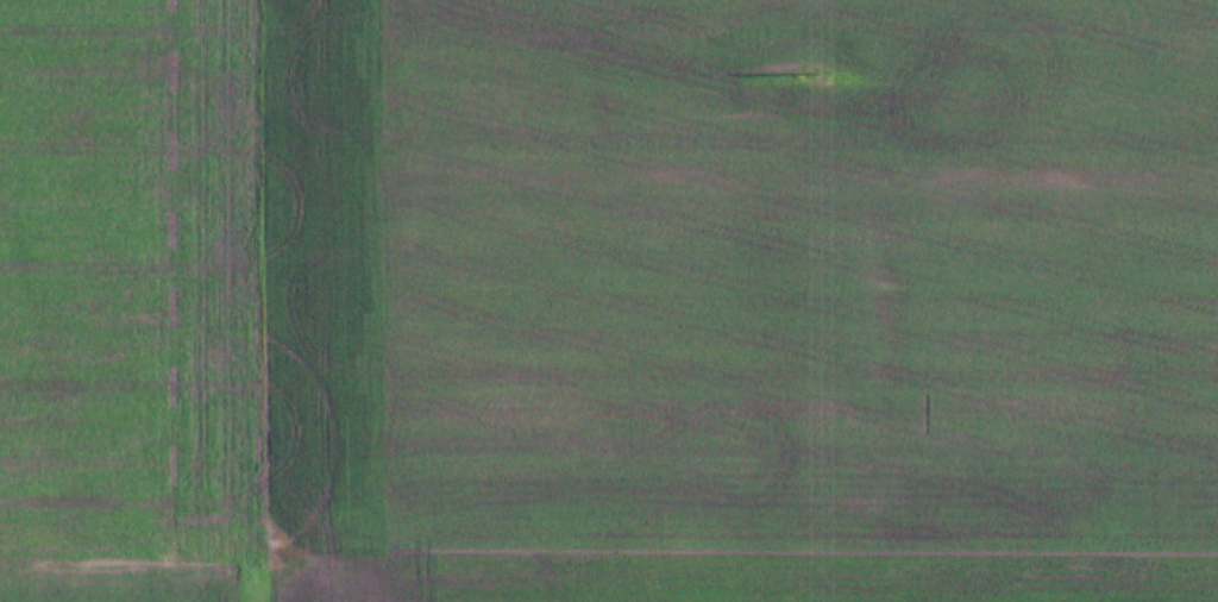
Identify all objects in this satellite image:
power tower: (811, 73)
crop: (609, 301)

